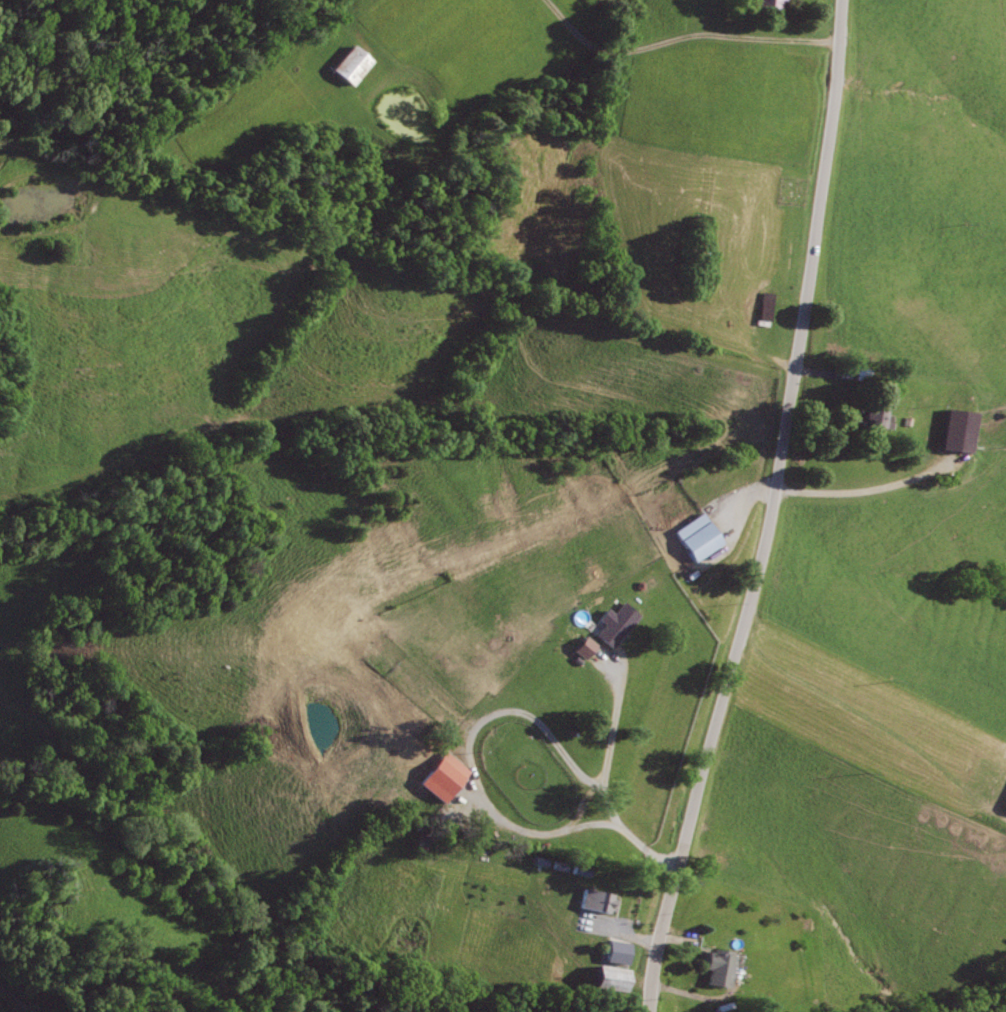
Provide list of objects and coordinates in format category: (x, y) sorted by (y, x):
building: (771, 3)
road: (679, 39)
building: (352, 64)
park: (793, 190)
building: (766, 308)
road: (822, 372)
building: (863, 374)
building: (875, 415)
building: (957, 428)
road: (868, 489)
road: (740, 493)
road: (769, 510)
building: (696, 536)
building: (614, 623)
building: (364, 639)
building: (578, 646)
building: (597, 659)
road: (472, 757)
building: (446, 776)
road: (606, 782)
building: (1005, 805)
building: (423, 841)
building: (599, 900)
road: (630, 938)
road: (676, 940)
building: (611, 951)
building: (718, 967)
building: (611, 976)
road: (706, 994)
road: (18, 998)

